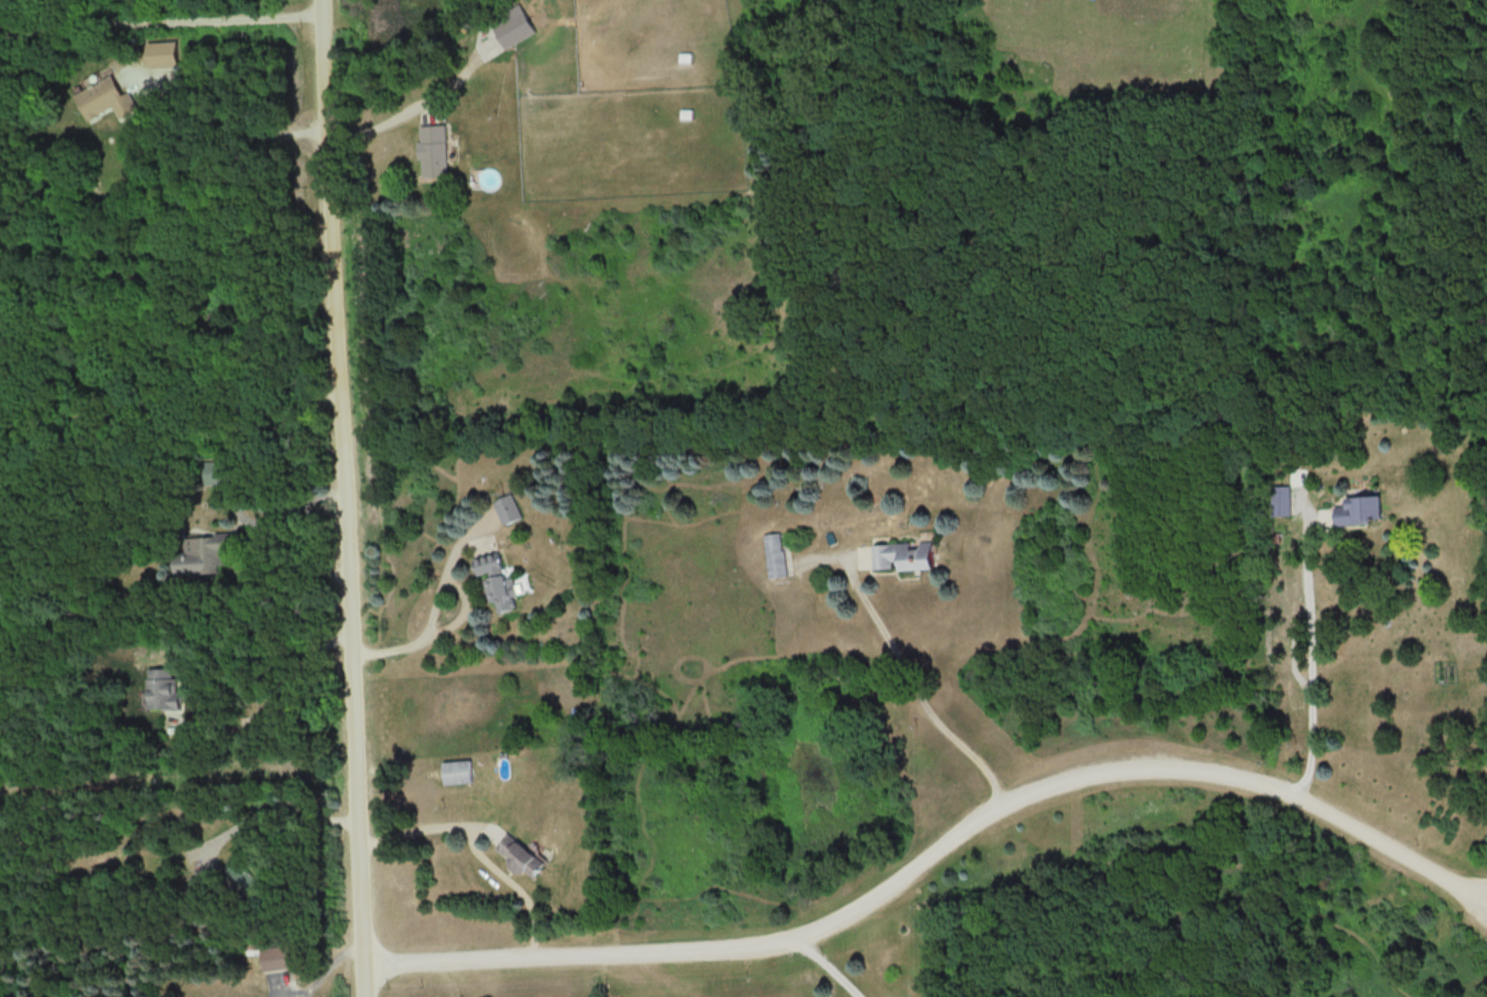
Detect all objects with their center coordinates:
road: (160, 18)
building: (511, 23)
building: (159, 52)
building: (105, 98)
road: (236, 126)
building: (431, 148)
road: (175, 440)
building: (216, 471)
road: (345, 498)
building: (507, 507)
building: (1355, 508)
road: (261, 533)
building: (200, 553)
building: (774, 553)
building: (901, 554)
building: (498, 580)
road: (435, 604)
road: (1311, 657)
road: (910, 685)
building: (161, 687)
road: (274, 704)
building: (456, 770)
road: (270, 811)
road: (479, 844)
road: (938, 846)
building: (514, 852)
building: (243, 879)
building: (197, 896)
building: (271, 956)
road: (827, 963)
road: (315, 968)
road: (301, 989)

